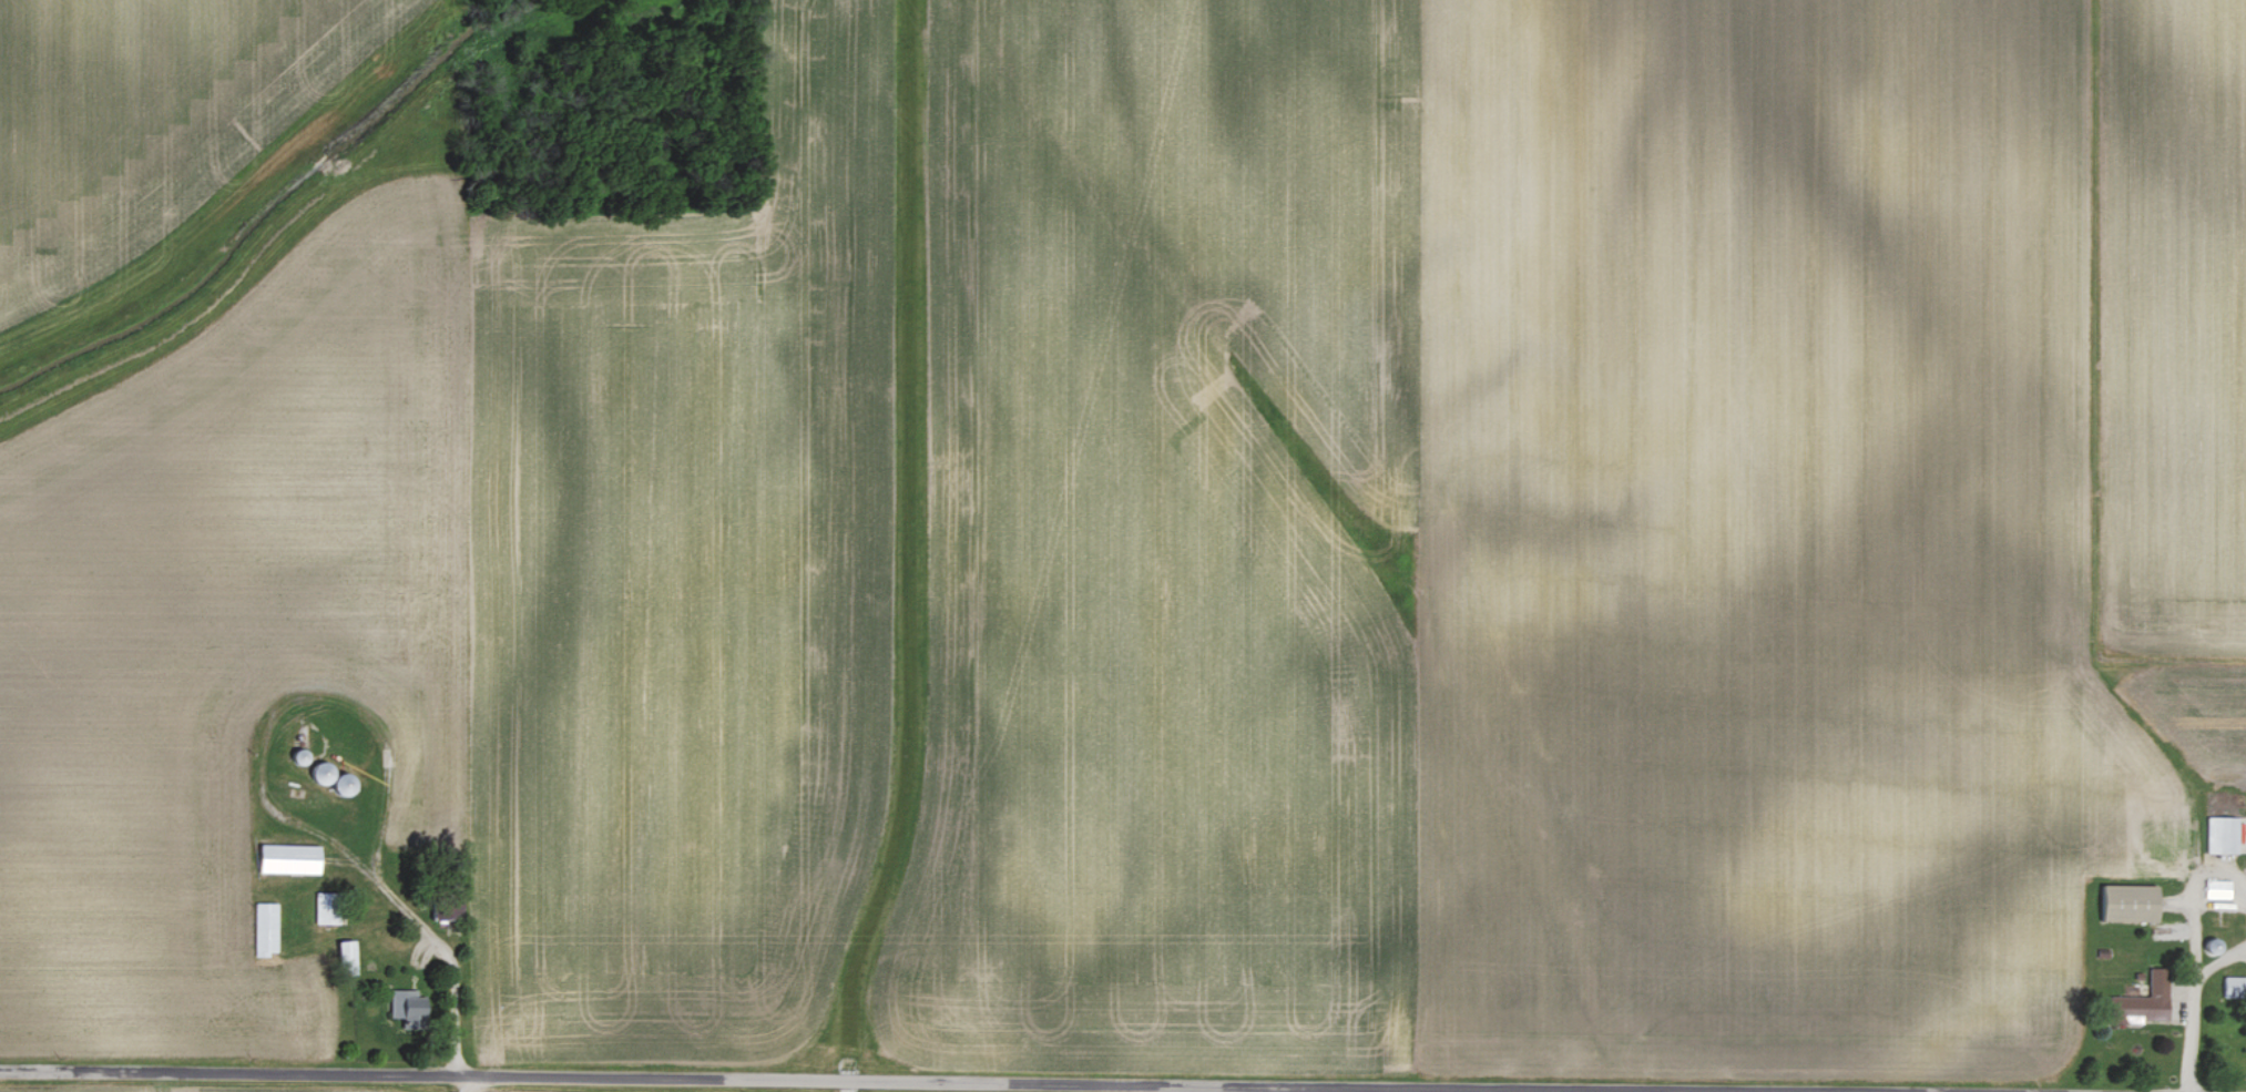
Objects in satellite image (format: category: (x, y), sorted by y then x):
building: (2240, 827)
building: (268, 928)
road: (2194, 955)
road: (456, 990)
road: (900, 1080)

